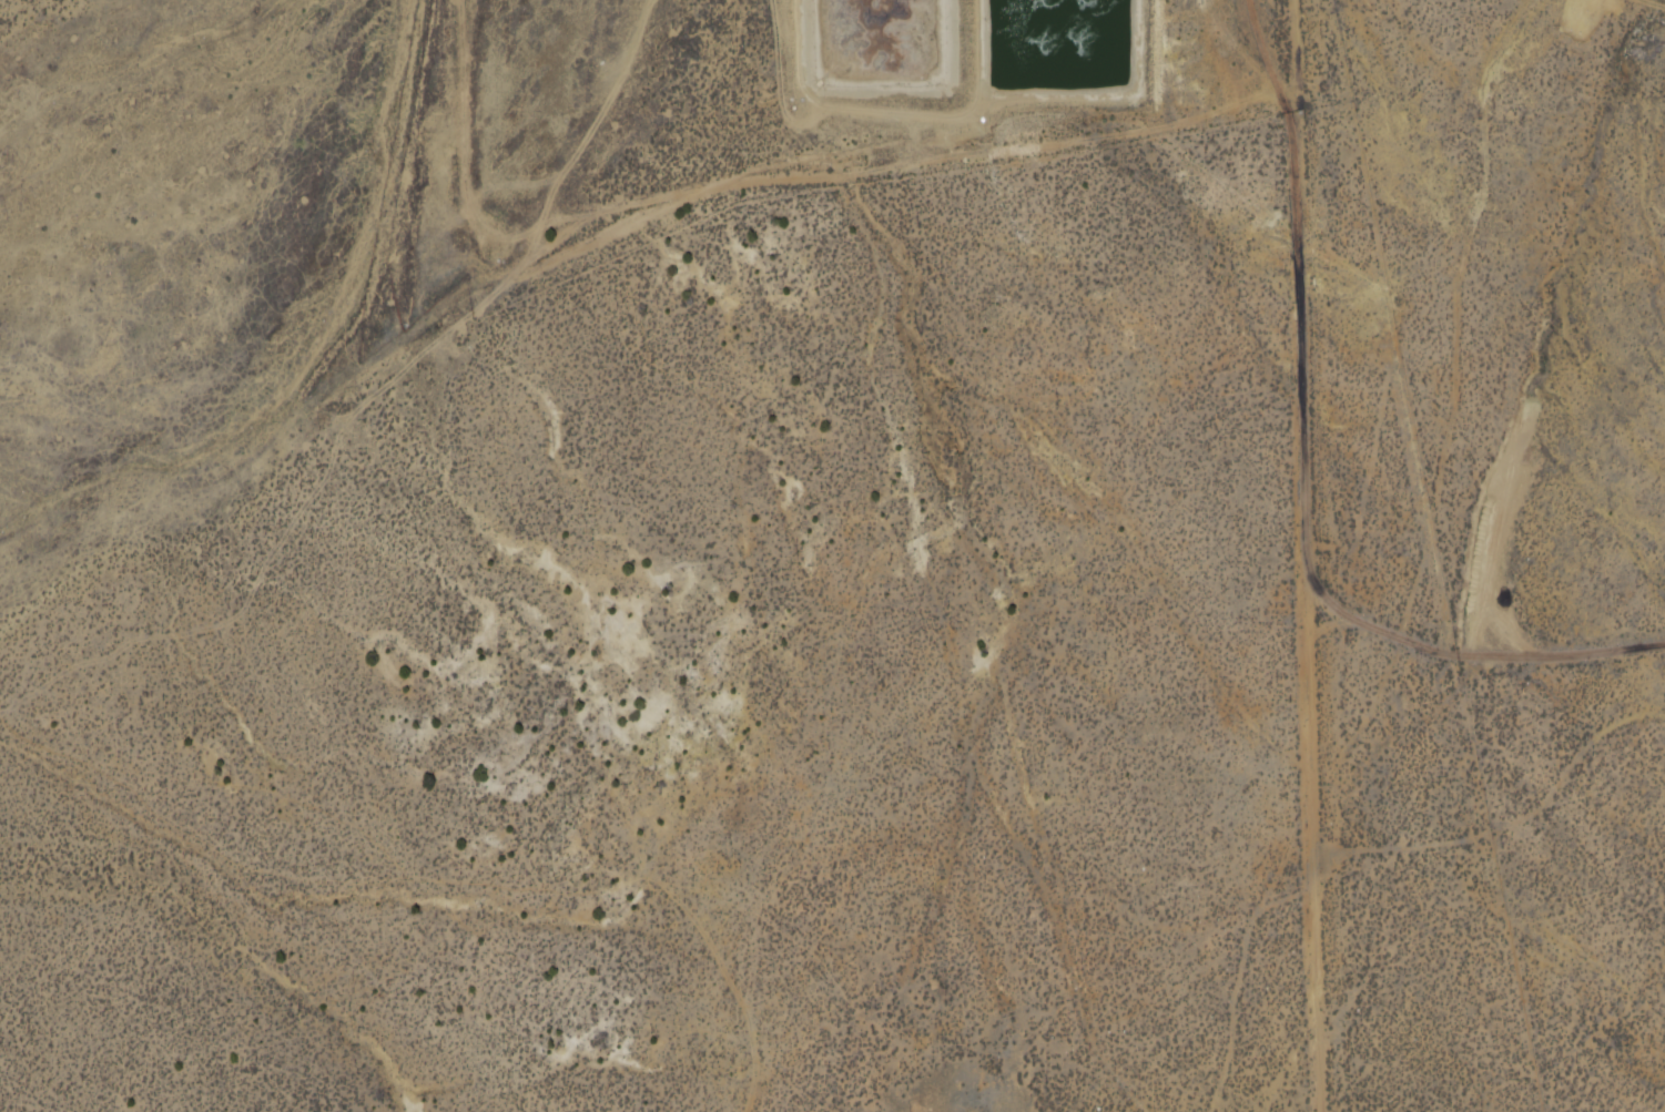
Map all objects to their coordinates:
road: (1304, 611)

